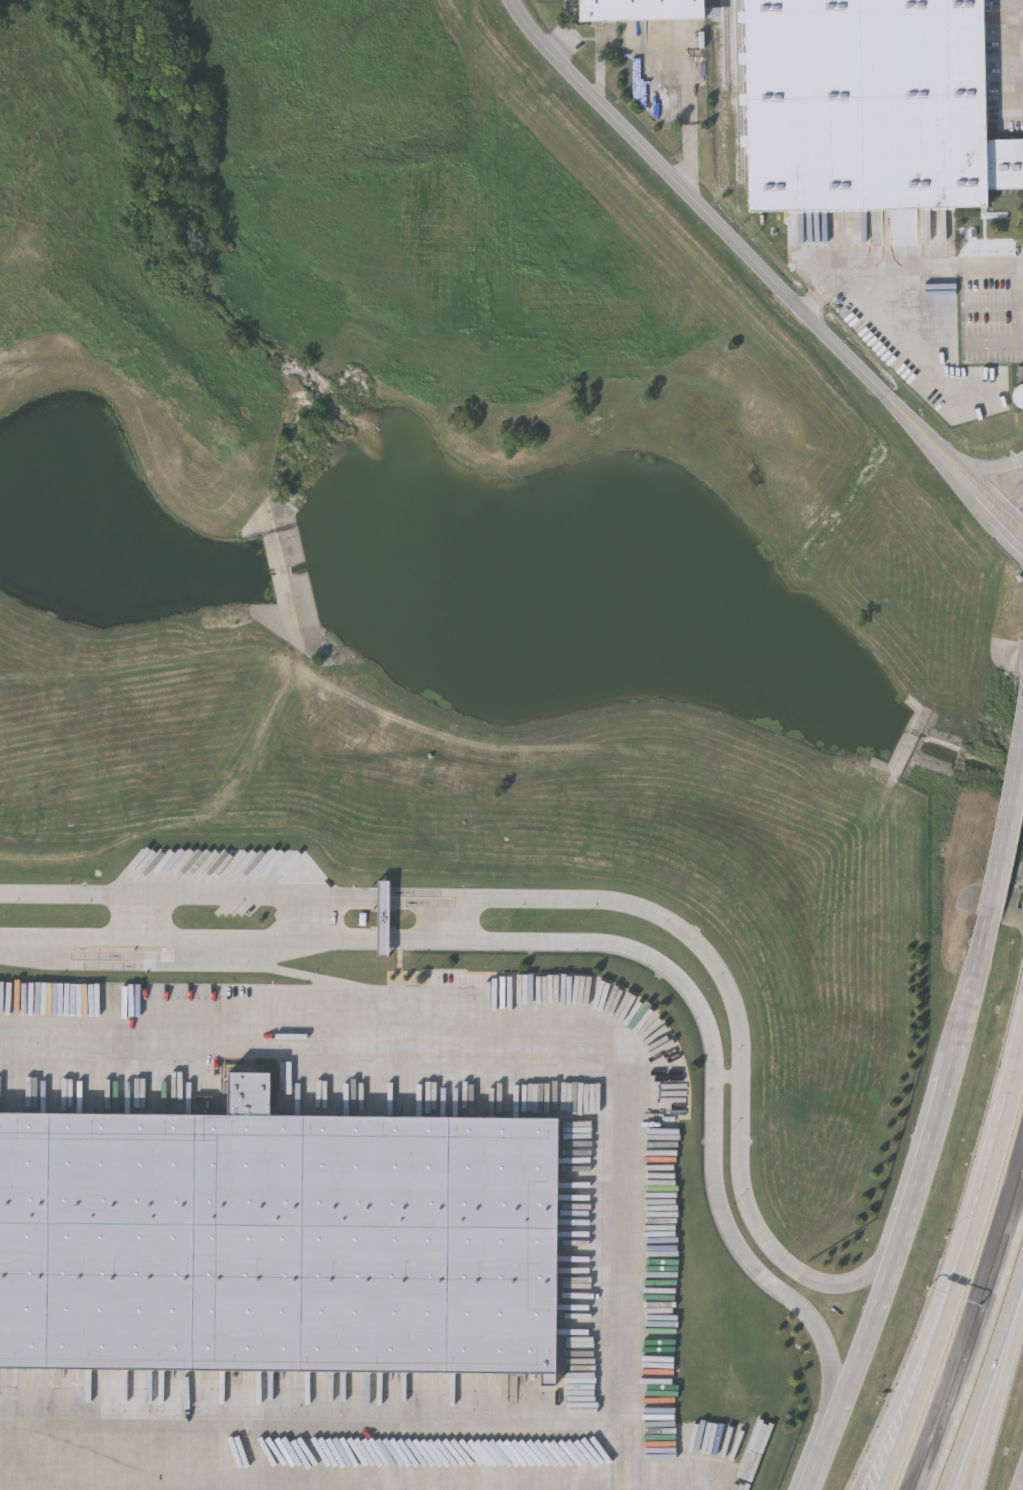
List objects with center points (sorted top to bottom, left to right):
building: (641, 9)
railway: (726, 44)
road: (1001, 50)
road: (601, 66)
railway: (739, 90)
building: (869, 106)
road: (691, 117)
road: (766, 266)
road: (909, 267)
road: (992, 315)
road: (951, 327)
road: (1019, 329)
building: (1018, 392)
road: (983, 468)
road: (1007, 828)
road: (587, 900)
road: (597, 941)
road: (308, 976)
building: (105, 1023)
road: (992, 1157)
road: (909, 1206)
building: (279, 1241)
road: (614, 1274)
road: (909, 1378)
road: (927, 1379)
road: (984, 1388)
road: (1001, 1397)
road: (306, 1412)
road: (6, 1472)
road: (1019, 1481)
road: (630, 1487)

